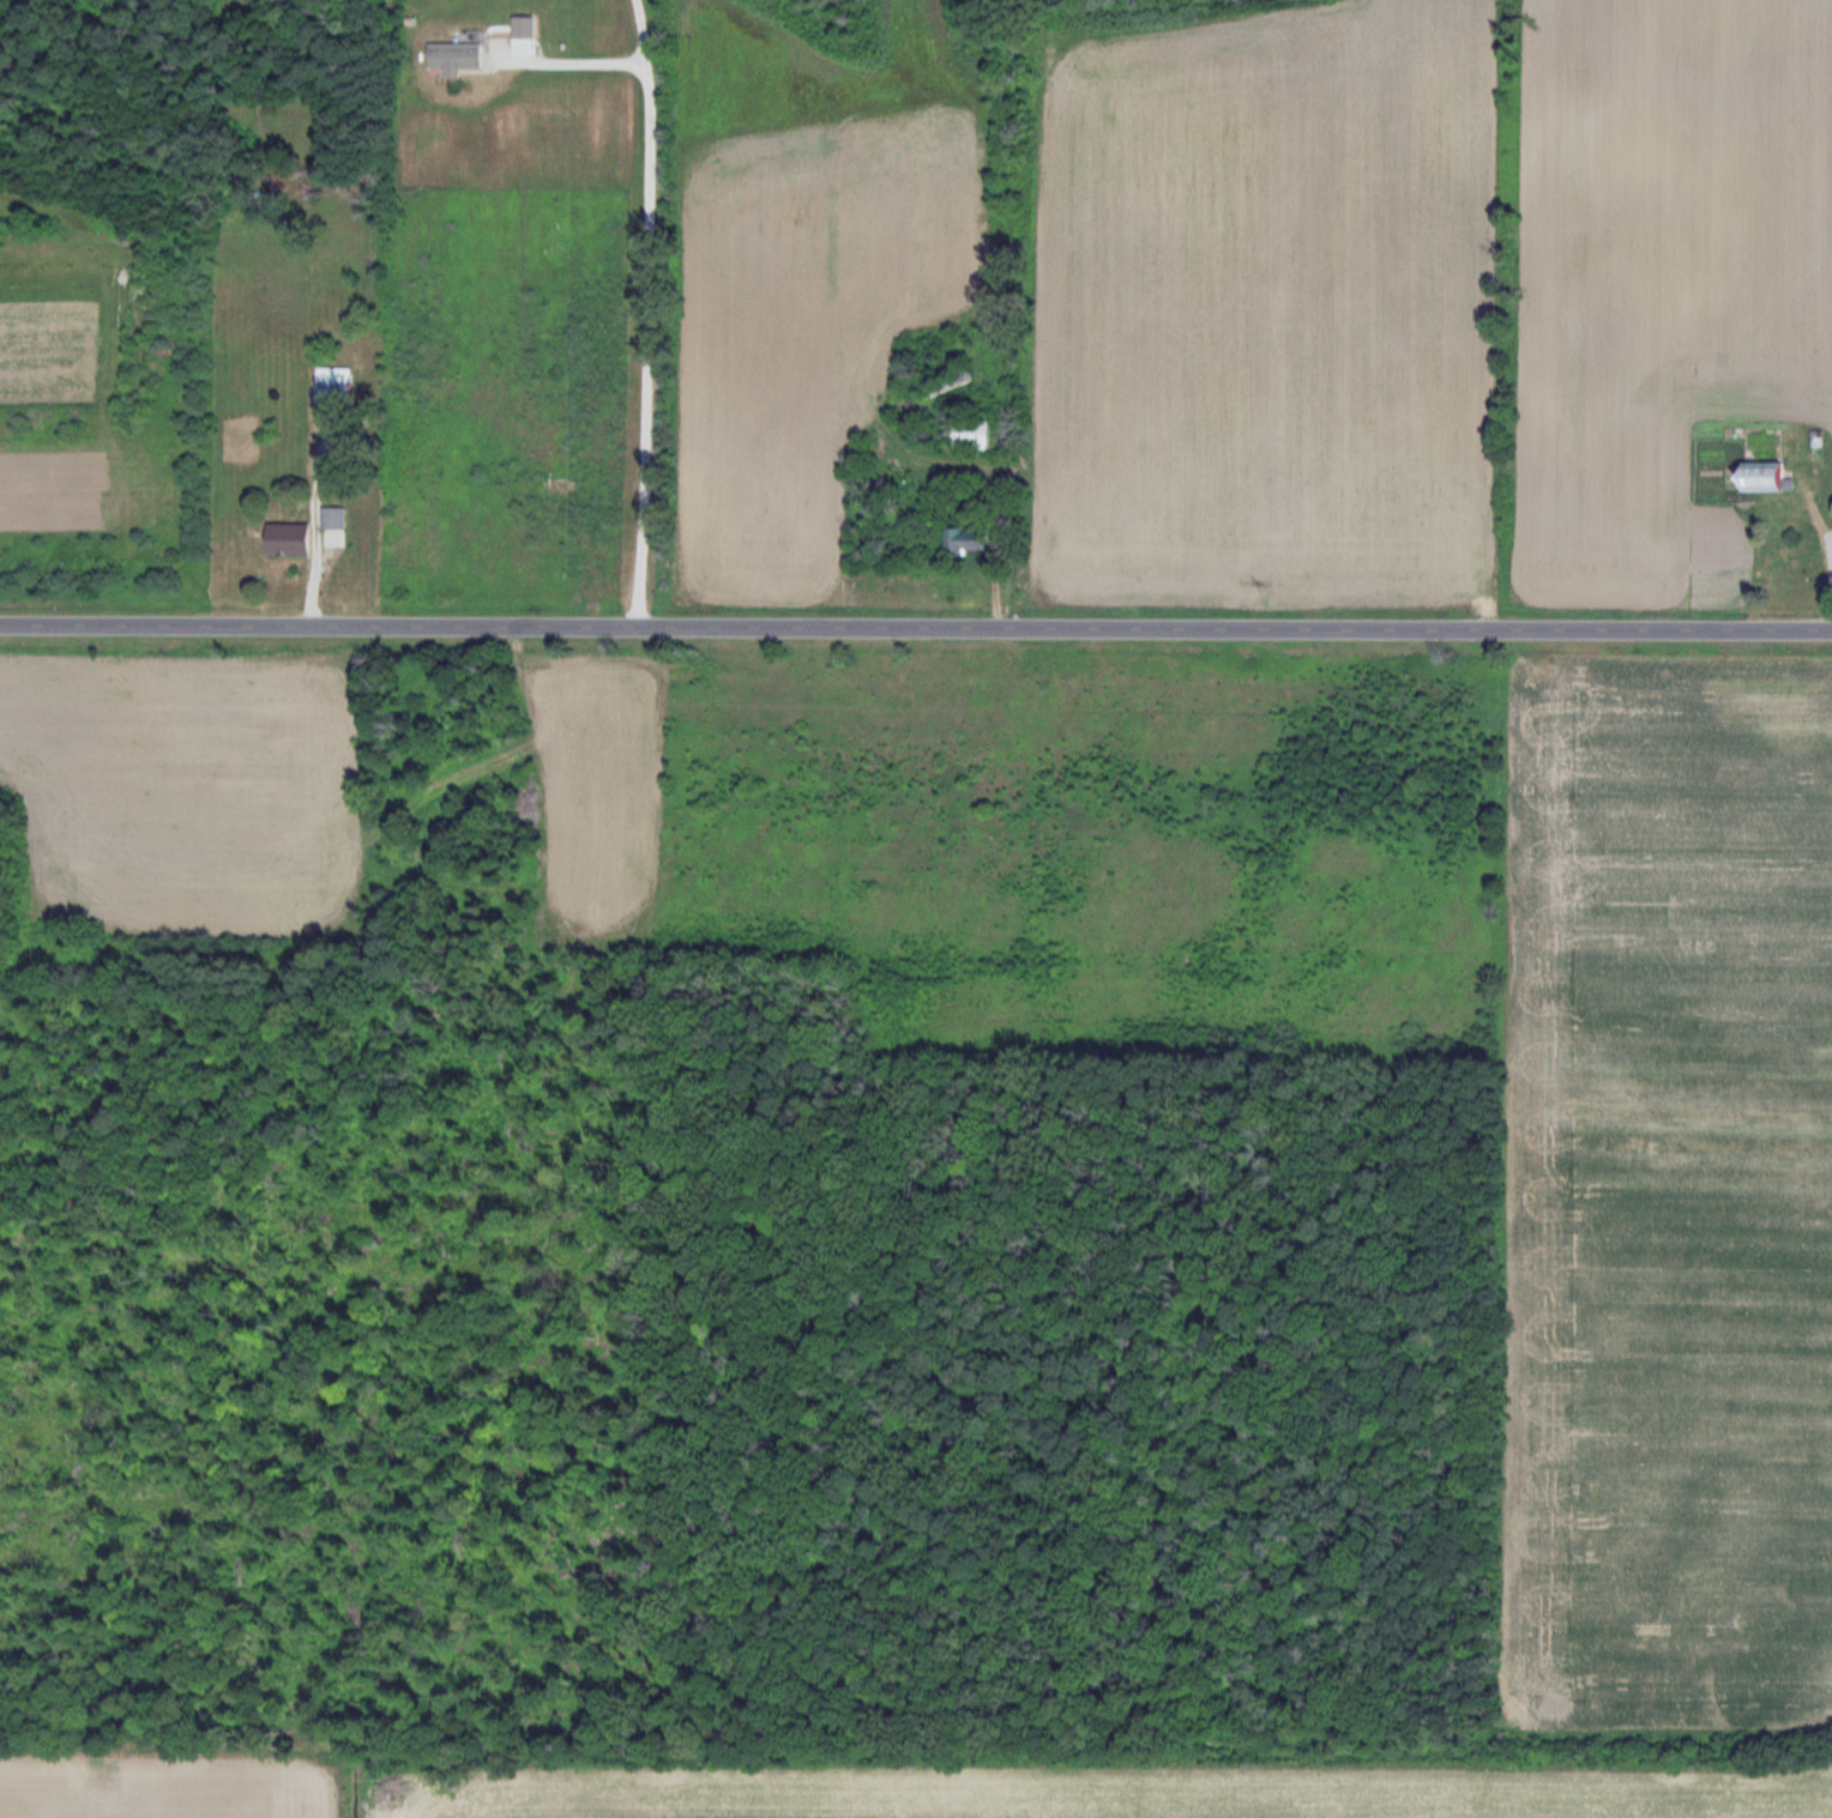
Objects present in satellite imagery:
building: (462, 55)
road: (650, 313)
building: (951, 382)
building: (337, 394)
building: (977, 434)
building: (1772, 477)
building: (335, 529)
road: (1825, 537)
building: (975, 539)
building: (289, 540)
road: (916, 628)

